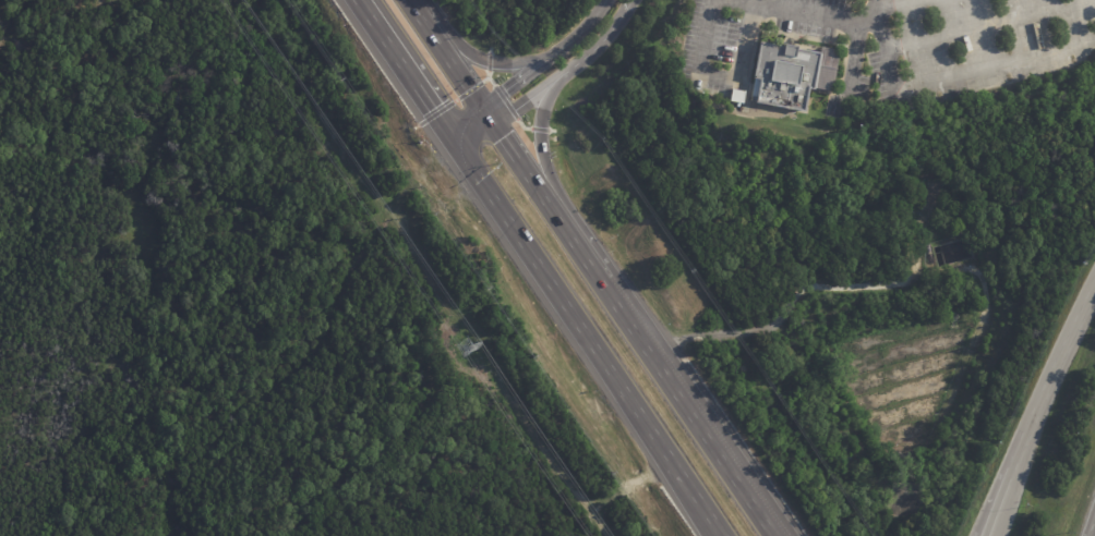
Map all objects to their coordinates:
road: (897, 8)
road: (418, 10)
road: (817, 17)
road: (989, 25)
road: (581, 33)
road: (747, 40)
parking lot: (984, 42)
road: (882, 44)
road: (482, 58)
parking lot: (712, 58)
road: (699, 59)
road: (994, 64)
road: (459, 66)
road: (571, 70)
road: (398, 74)
building: (792, 75)
road: (517, 83)
building: (735, 95)
traffic signals: (494, 113)
road: (471, 131)
road: (541, 137)
traffic signals: (448, 148)
road: (522, 156)
road: (579, 239)
road: (579, 342)
power tower: (471, 351)
road: (1050, 375)
road: (693, 407)
road: (1002, 502)
road: (1094, 533)
road: (712, 535)
road: (990, 535)

